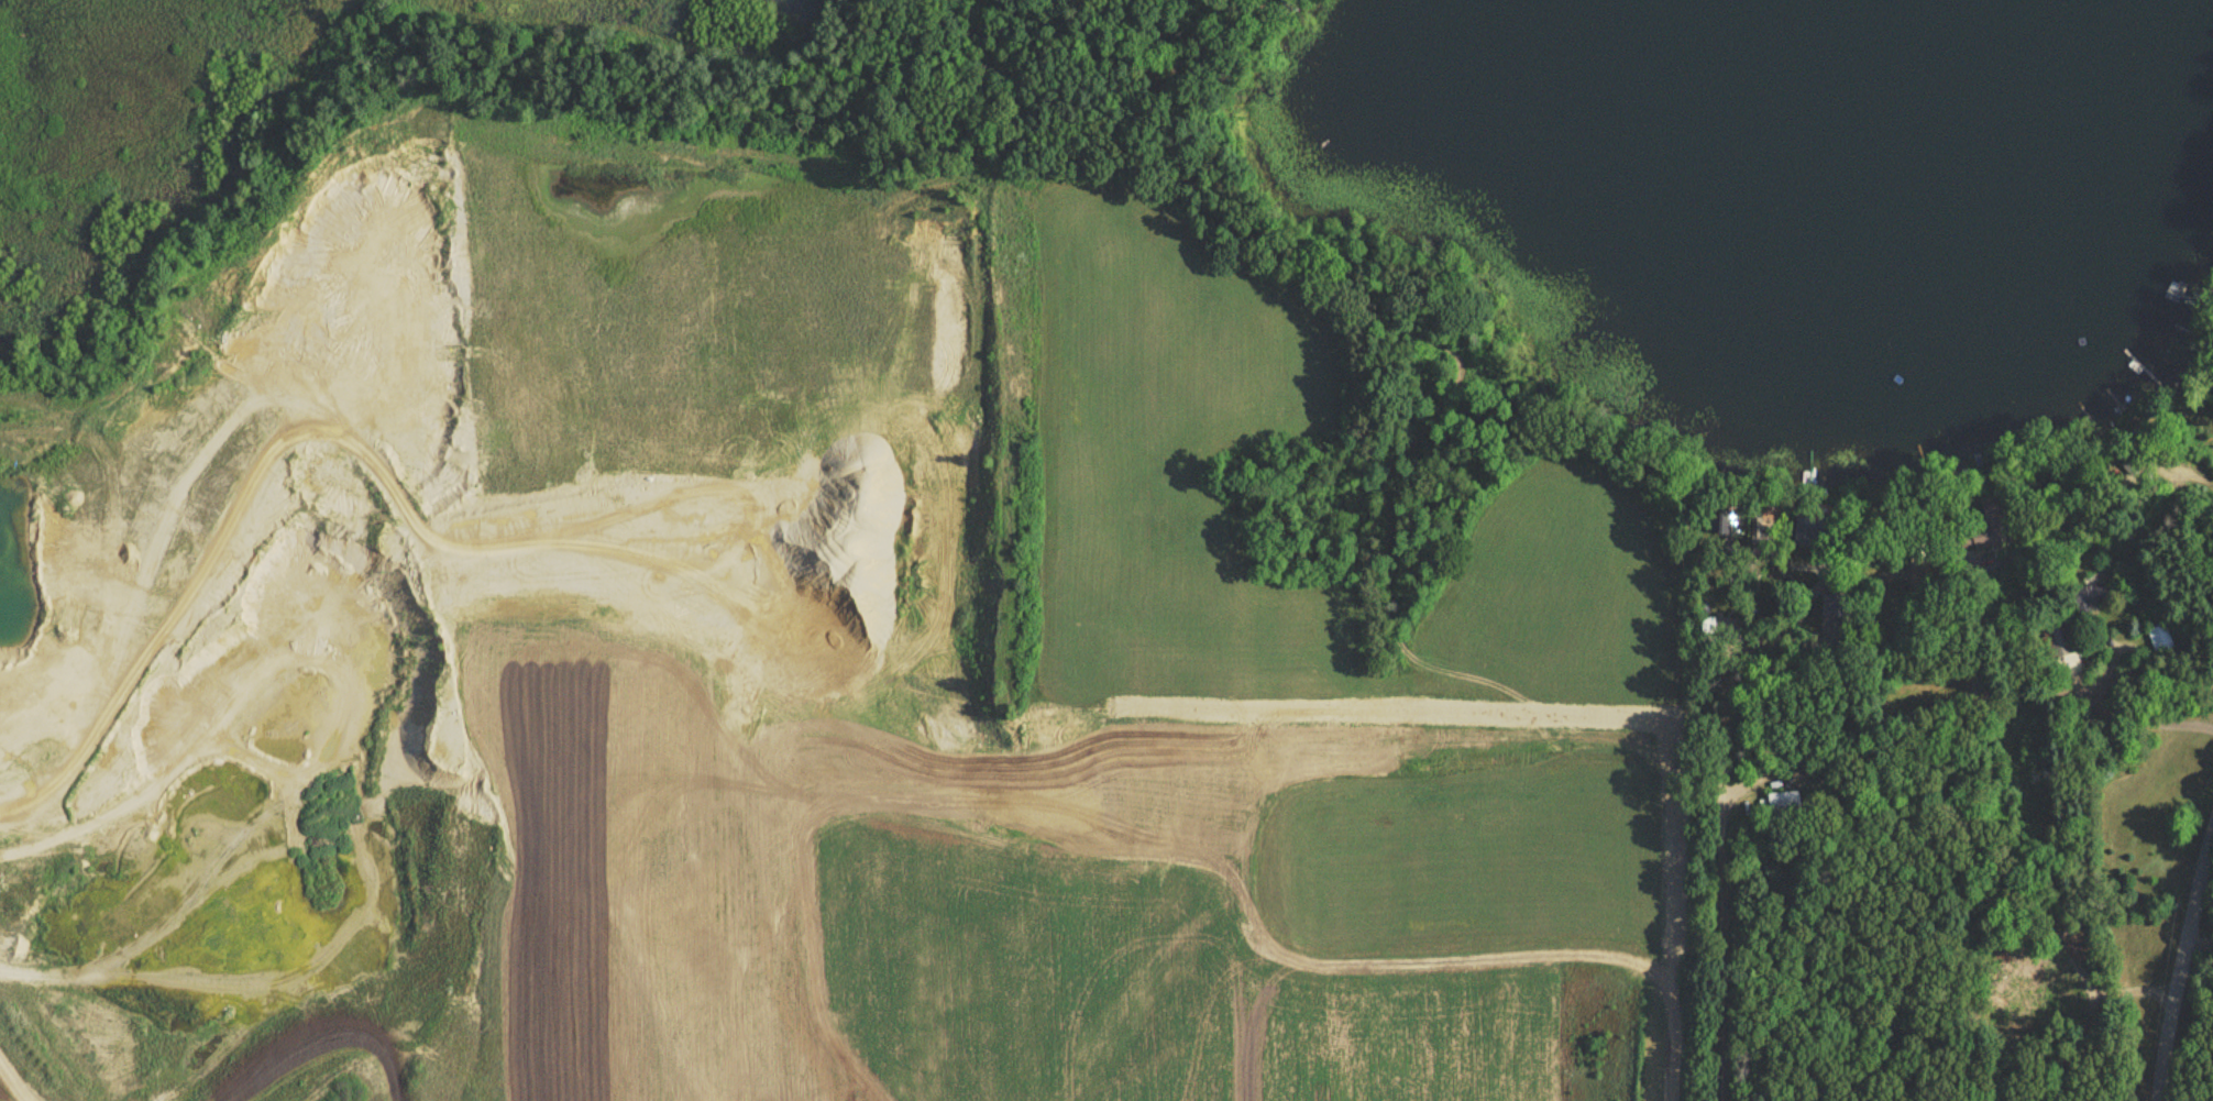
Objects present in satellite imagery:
building: (1731, 525)
building: (2164, 641)
building: (2065, 643)
road: (1874, 662)
road: (2092, 690)
road: (1720, 702)
road: (2146, 723)
building: (1783, 805)
road: (1716, 812)
road: (2194, 939)
road: (2173, 949)

